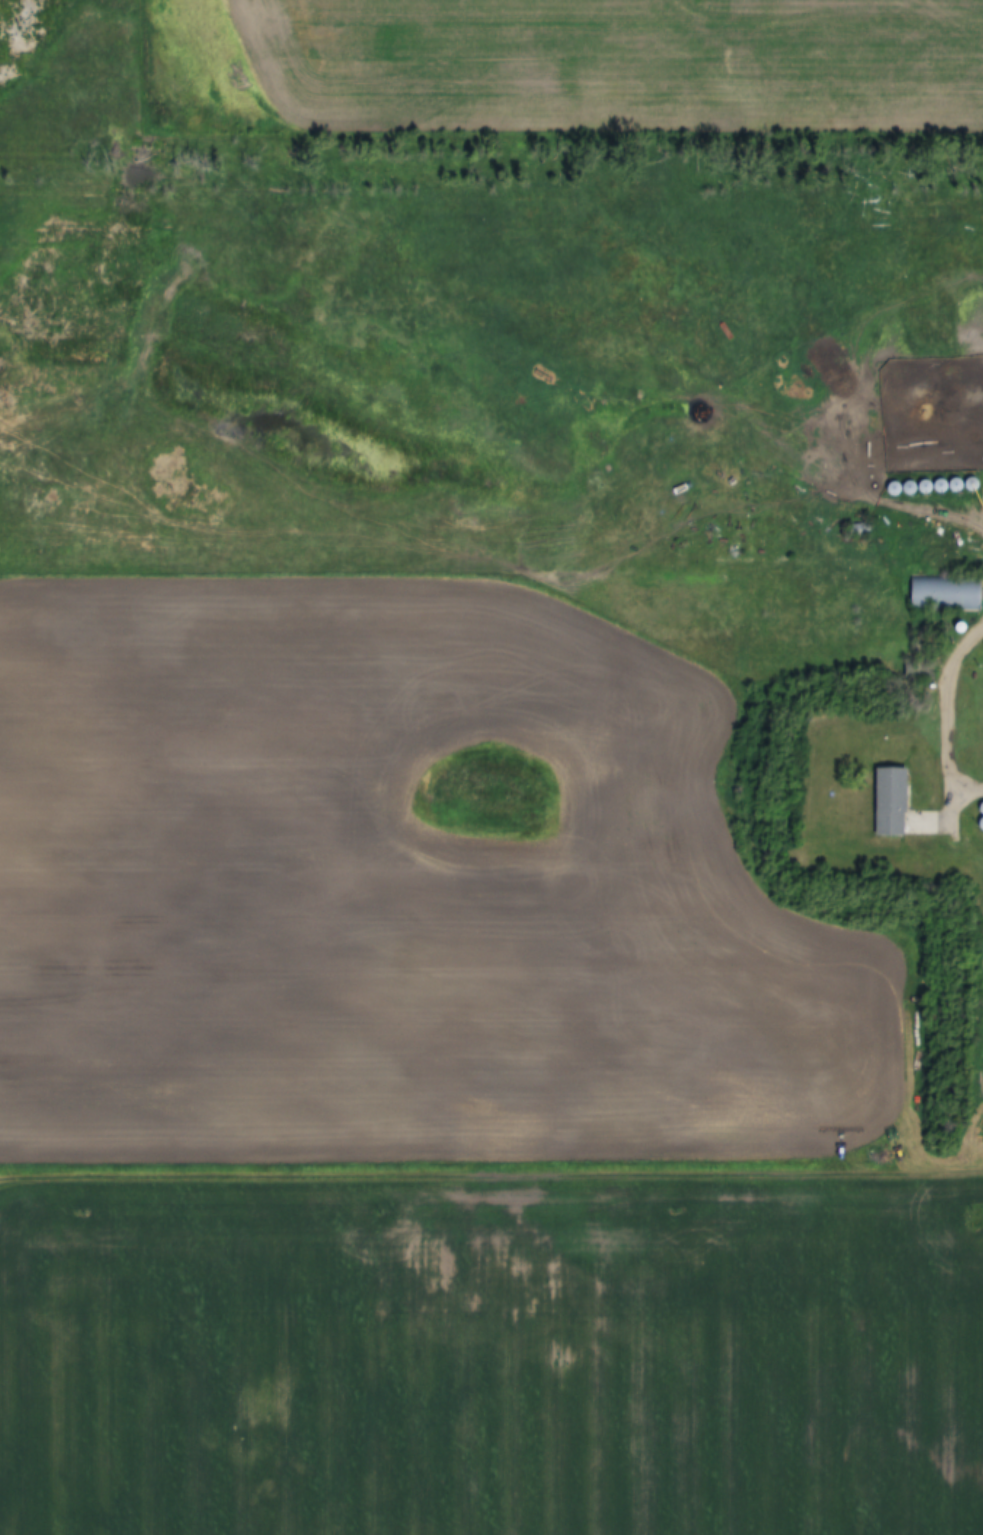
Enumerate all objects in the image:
road: (957, 696)
building: (895, 802)
road: (491, 1173)

